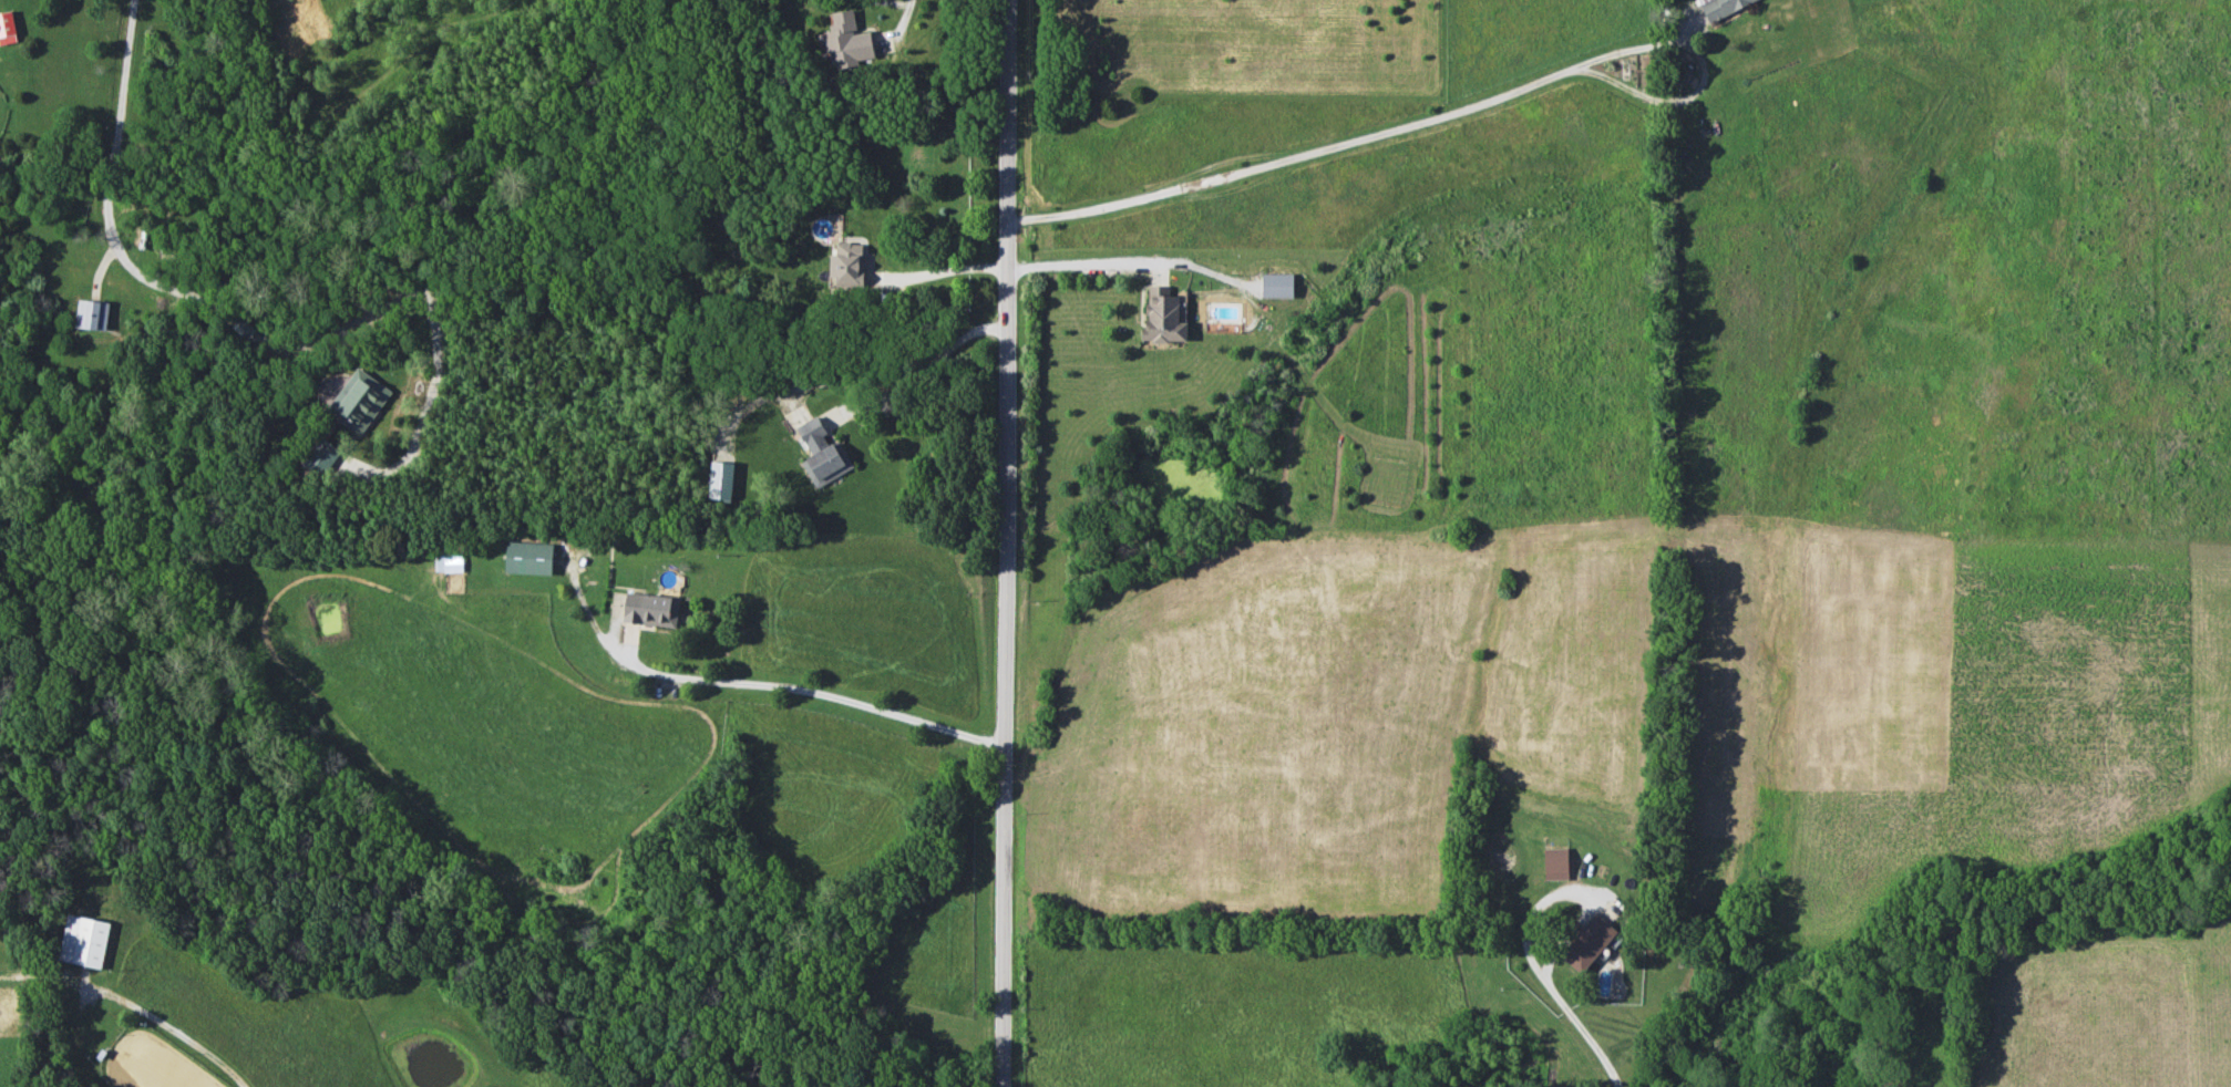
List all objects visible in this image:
building: (1720, 7)
road: (903, 15)
building: (7, 28)
building: (846, 41)
road: (1439, 116)
road: (107, 222)
road: (1081, 263)
building: (846, 265)
road: (947, 270)
building: (1276, 284)
building: (92, 314)
building: (1162, 315)
building: (243, 328)
road: (435, 330)
road: (934, 359)
building: (358, 401)
building: (822, 454)
building: (321, 456)
building: (720, 480)
road: (1011, 543)
building: (527, 557)
building: (448, 561)
building: (650, 609)
road: (812, 689)
building: (1555, 863)
building: (83, 941)
building: (1586, 943)
road: (1544, 976)
road: (161, 1023)

